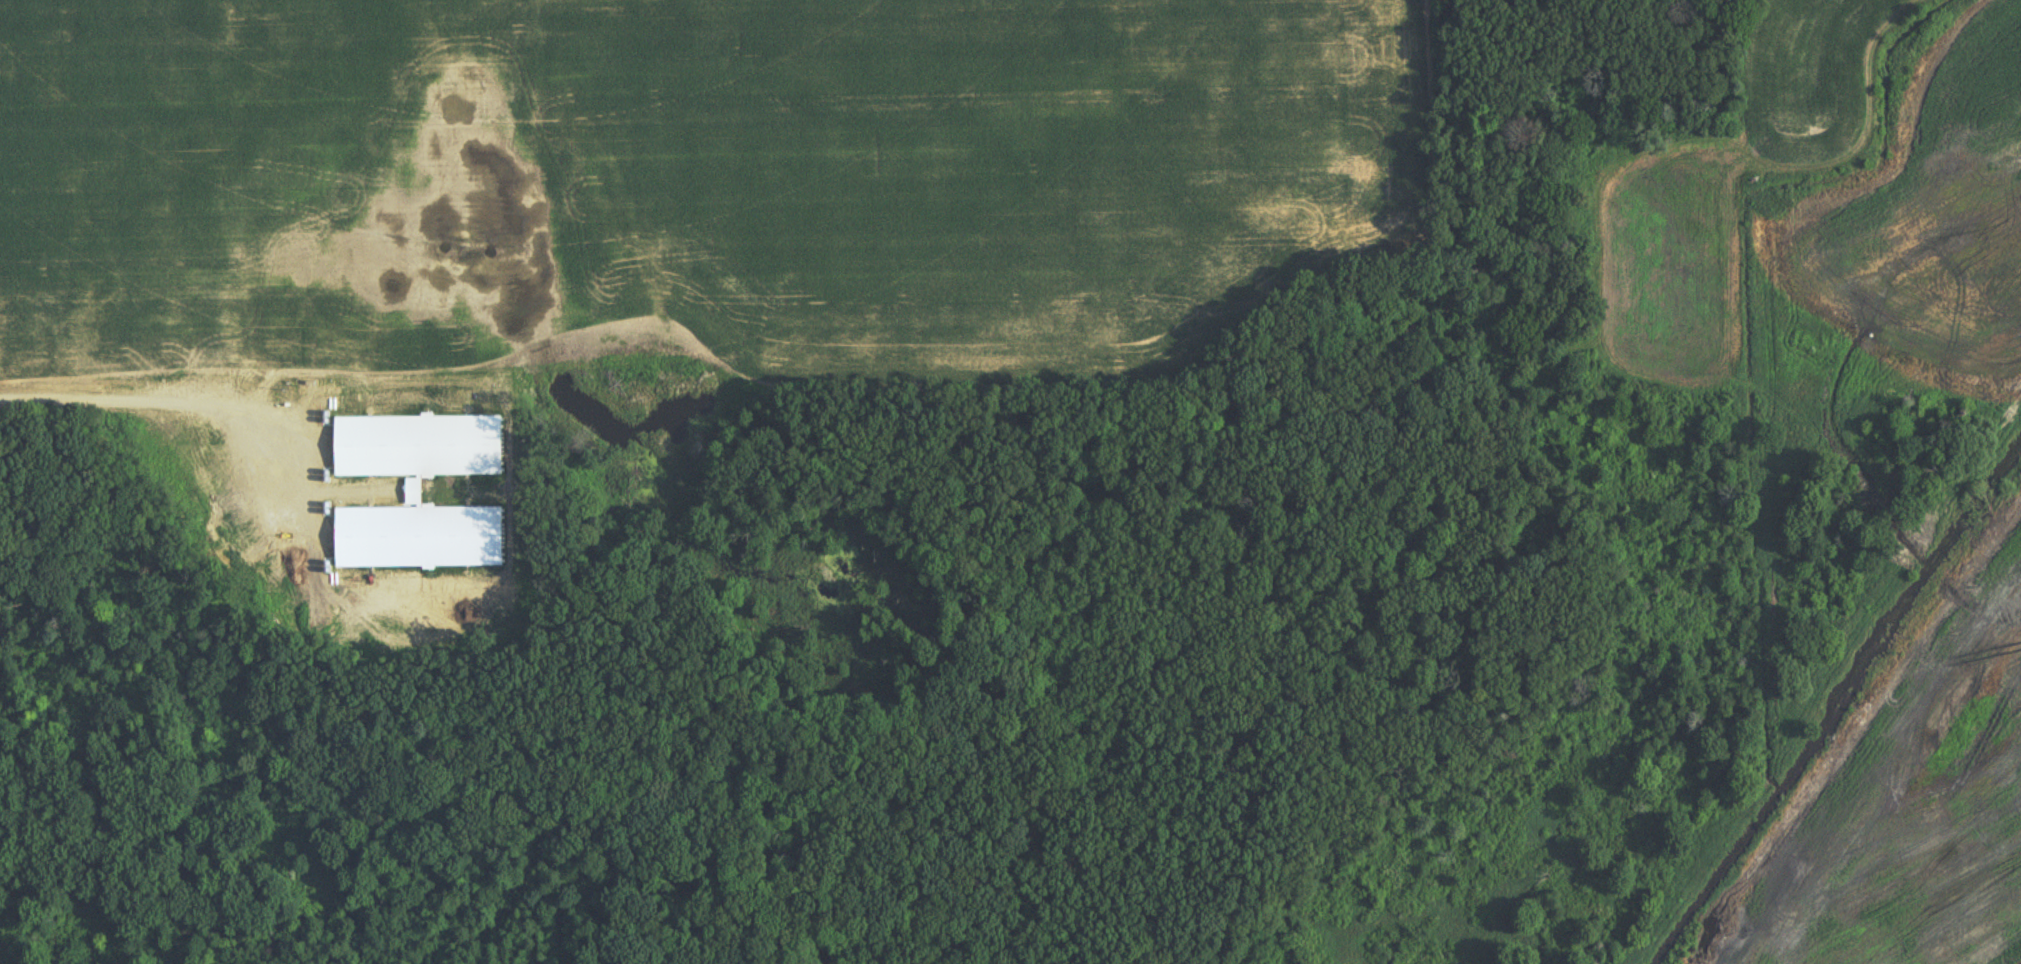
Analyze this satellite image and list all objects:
road: (85, 409)

